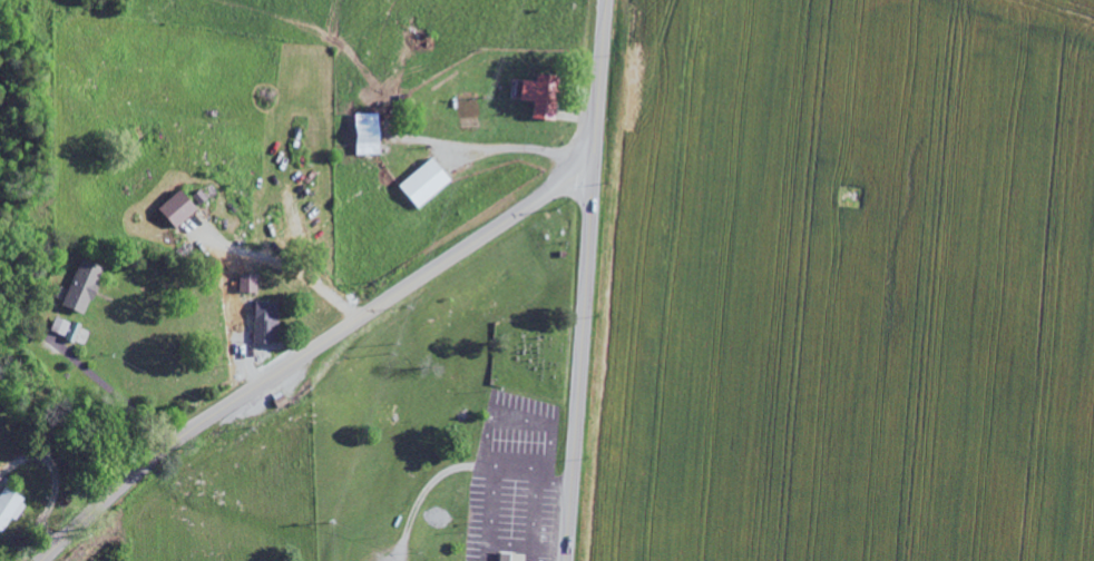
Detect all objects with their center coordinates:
road: (598, 83)
road: (349, 86)
building: (543, 97)
building: (369, 134)
building: (427, 181)
building: (178, 208)
building: (248, 283)
building: (84, 286)
building: (265, 322)
building: (60, 326)
building: (74, 332)
road: (307, 352)
park: (530, 355)
road: (579, 364)
building: (10, 506)
building: (511, 557)

